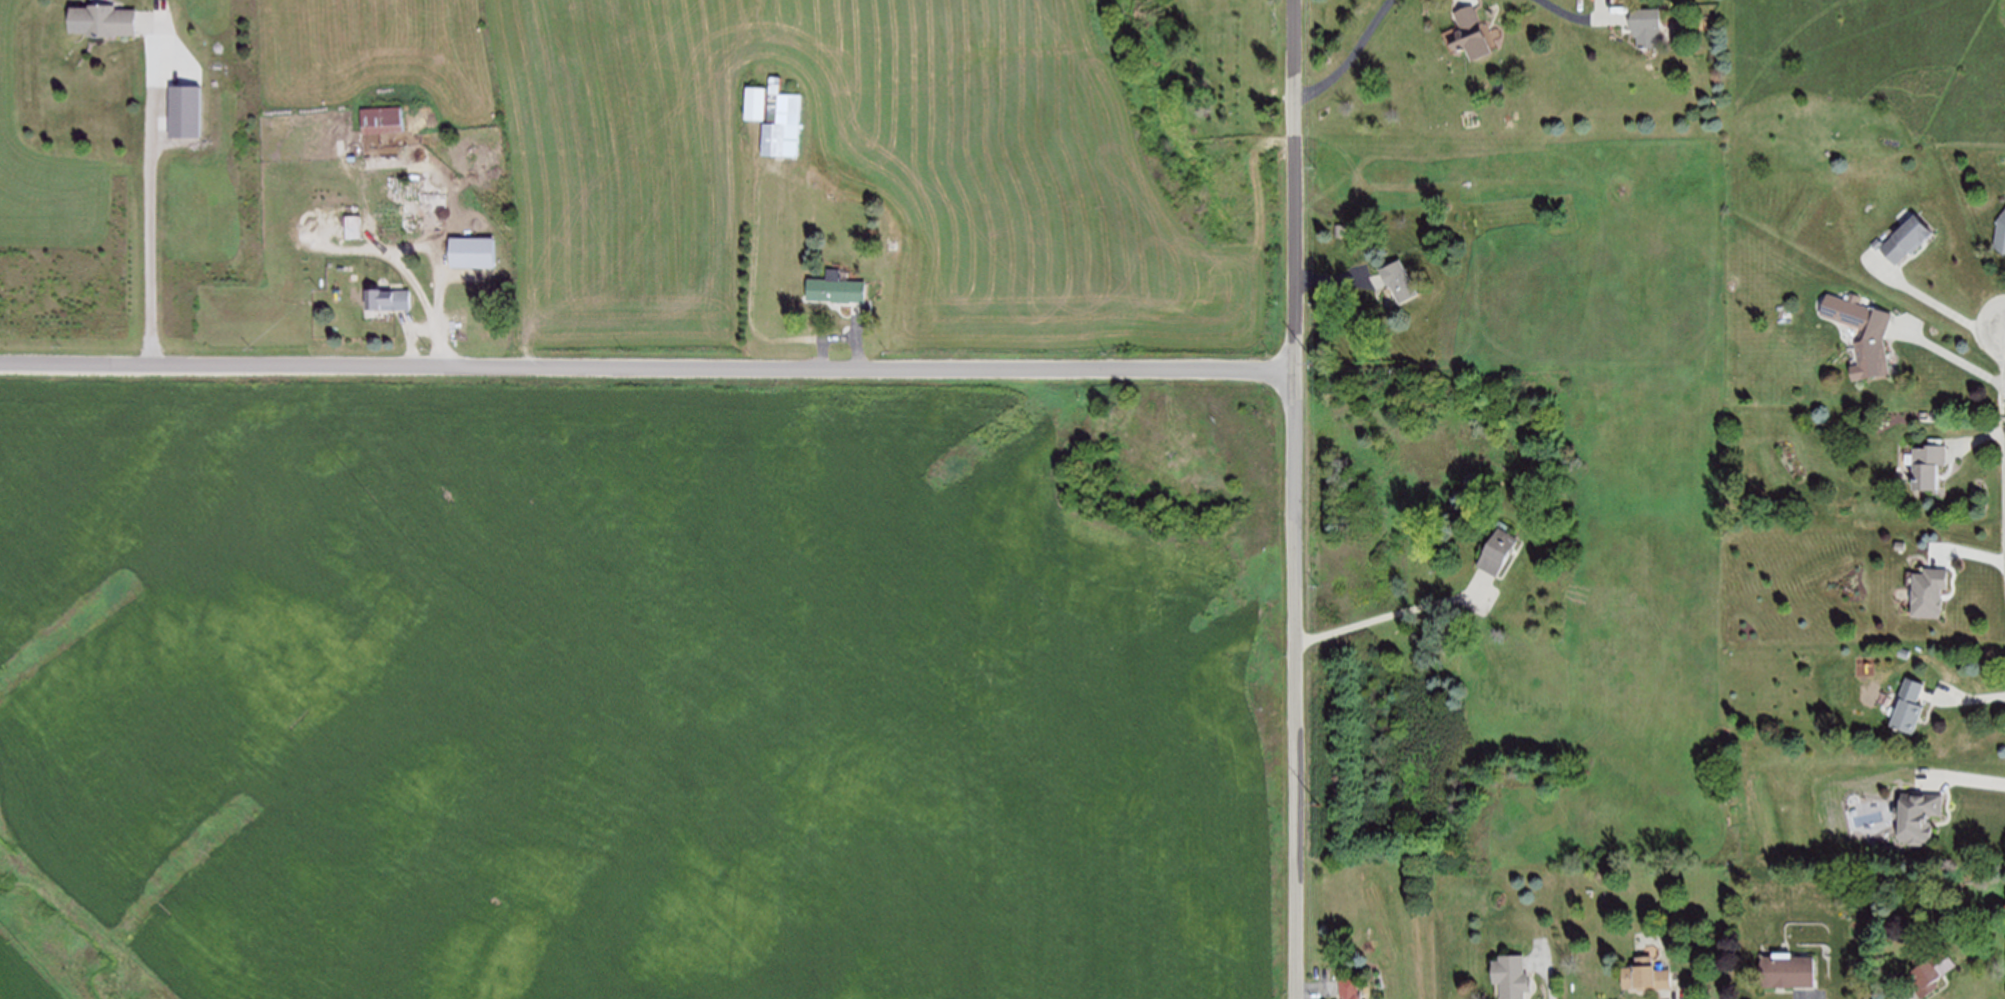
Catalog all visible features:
road: (1576, 15)
building: (102, 18)
building: (1647, 26)
building: (1470, 34)
road: (1354, 55)
building: (755, 101)
building: (184, 111)
building: (384, 120)
building: (782, 122)
building: (840, 167)
road: (154, 191)
building: (335, 226)
building: (1343, 231)
building: (2000, 233)
building: (1902, 240)
road: (413, 247)
building: (475, 252)
road: (399, 263)
road: (1337, 279)
building: (1399, 280)
road: (753, 283)
building: (836, 288)
road: (439, 294)
building: (386, 299)
road: (1936, 302)
road: (410, 334)
road: (841, 336)
building: (1872, 346)
road: (1948, 353)
road: (648, 368)
road: (1980, 439)
building: (1929, 466)
road: (1297, 499)
building: (1499, 551)
road: (1970, 552)
building: (1928, 592)
road: (1396, 612)
road: (1965, 699)
building: (1908, 706)
road: (1965, 778)
building: (1916, 817)
building: (1785, 970)
building: (1929, 970)
road: (1551, 971)
building: (1645, 975)
building: (1512, 977)
road: (1316, 988)
building: (1348, 988)
road: (1907, 994)
road: (1666, 996)
road: (1804, 996)

